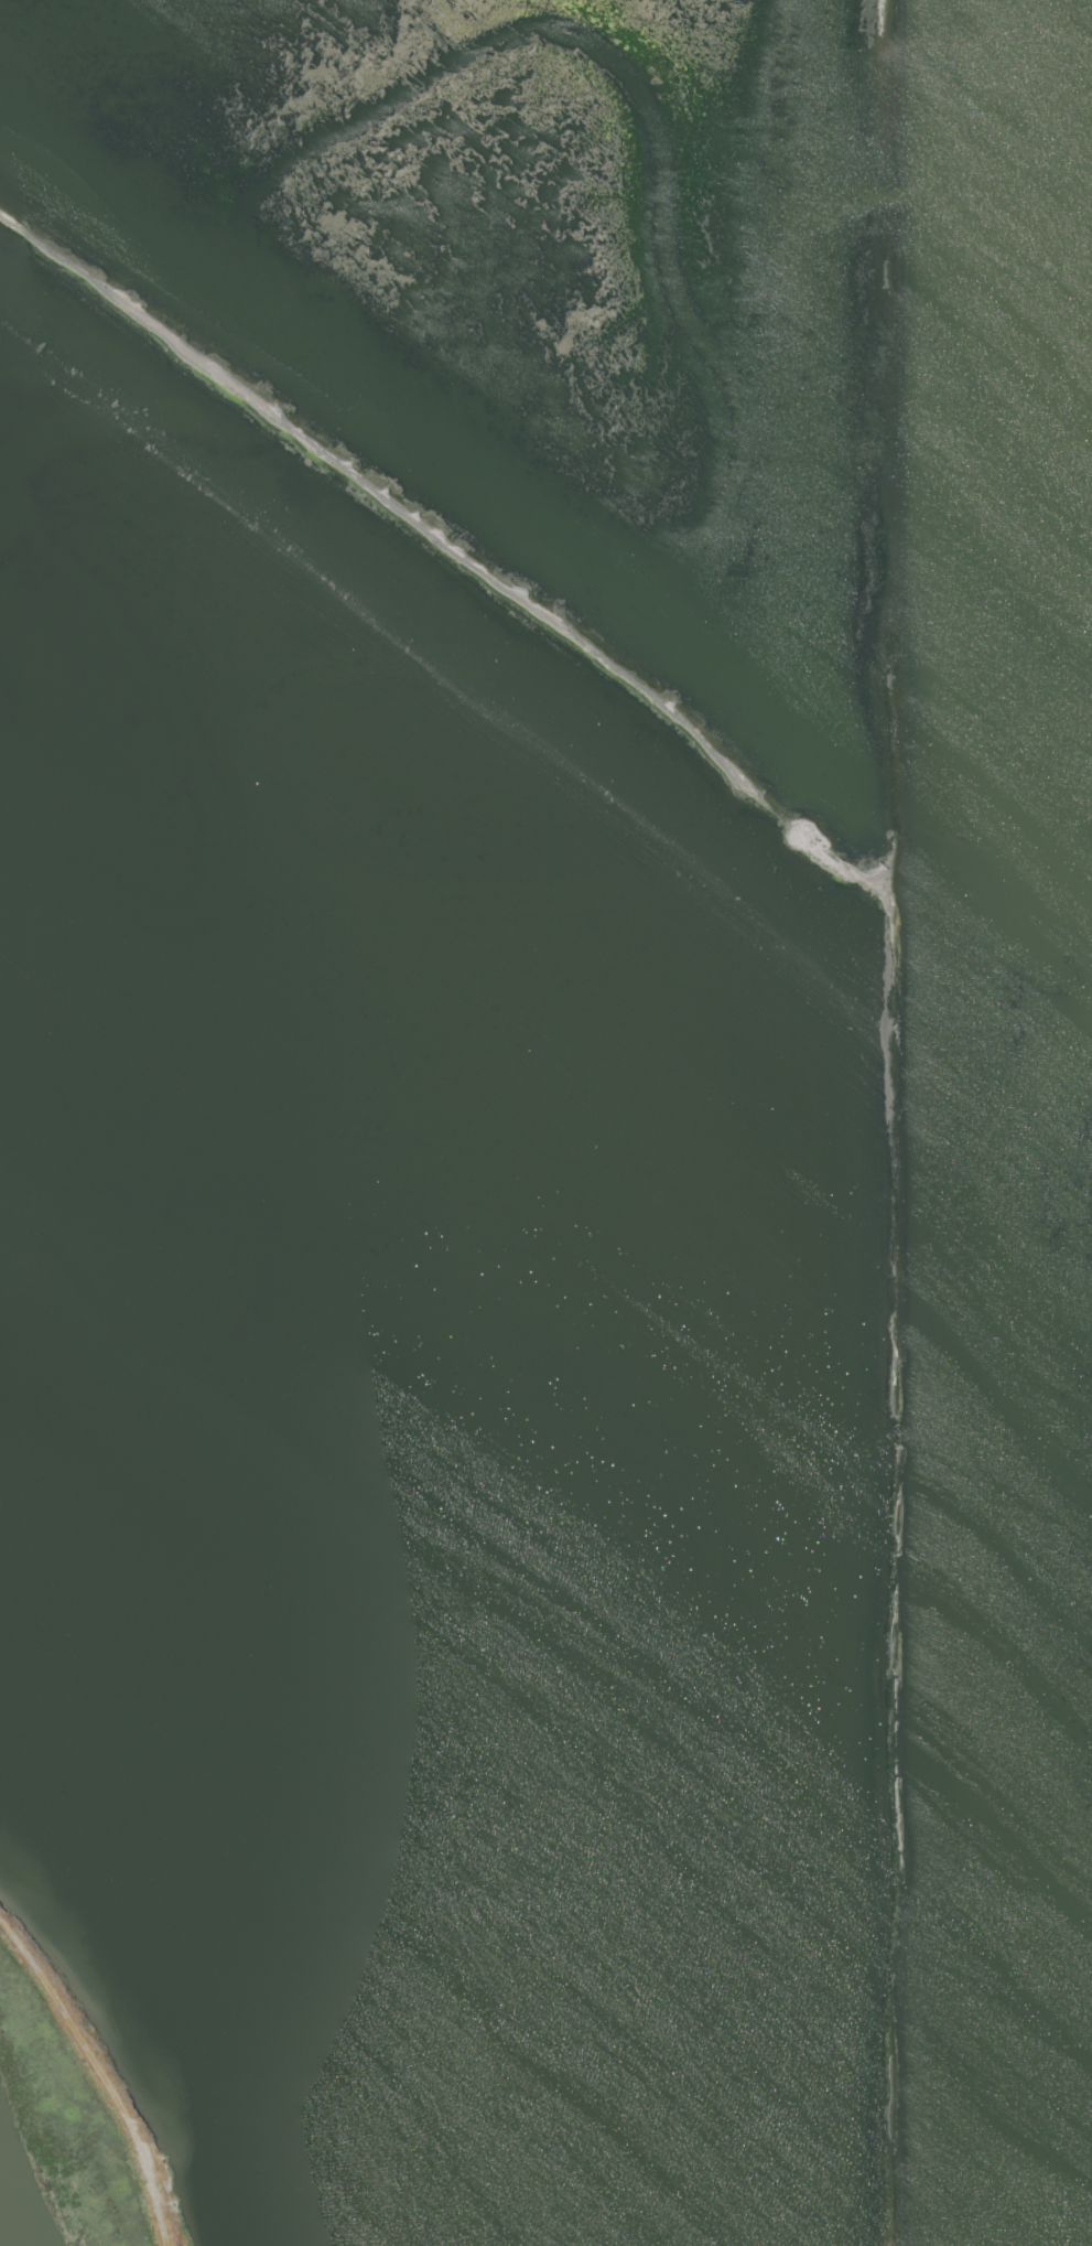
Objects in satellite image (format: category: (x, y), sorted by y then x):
road: (101, 2075)
river: (15, 2214)

